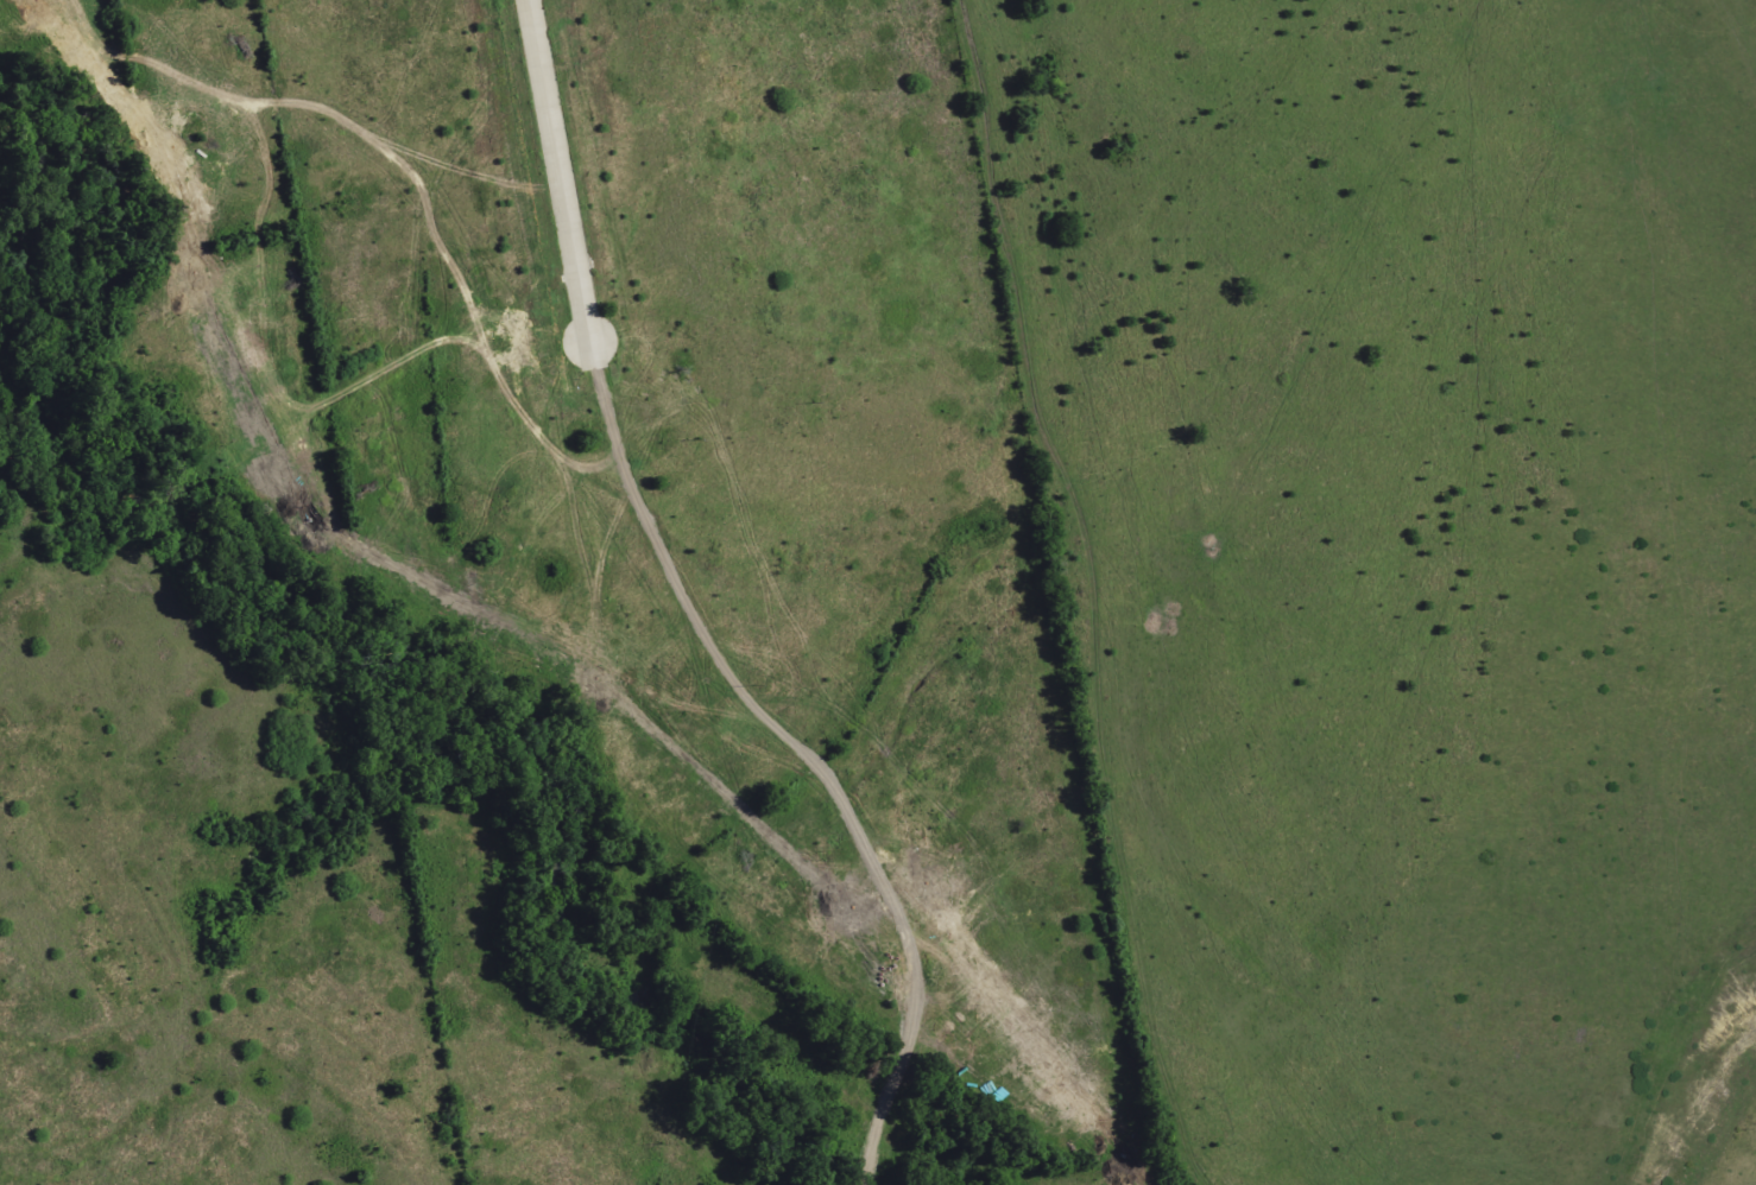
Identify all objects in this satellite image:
road: (561, 166)

